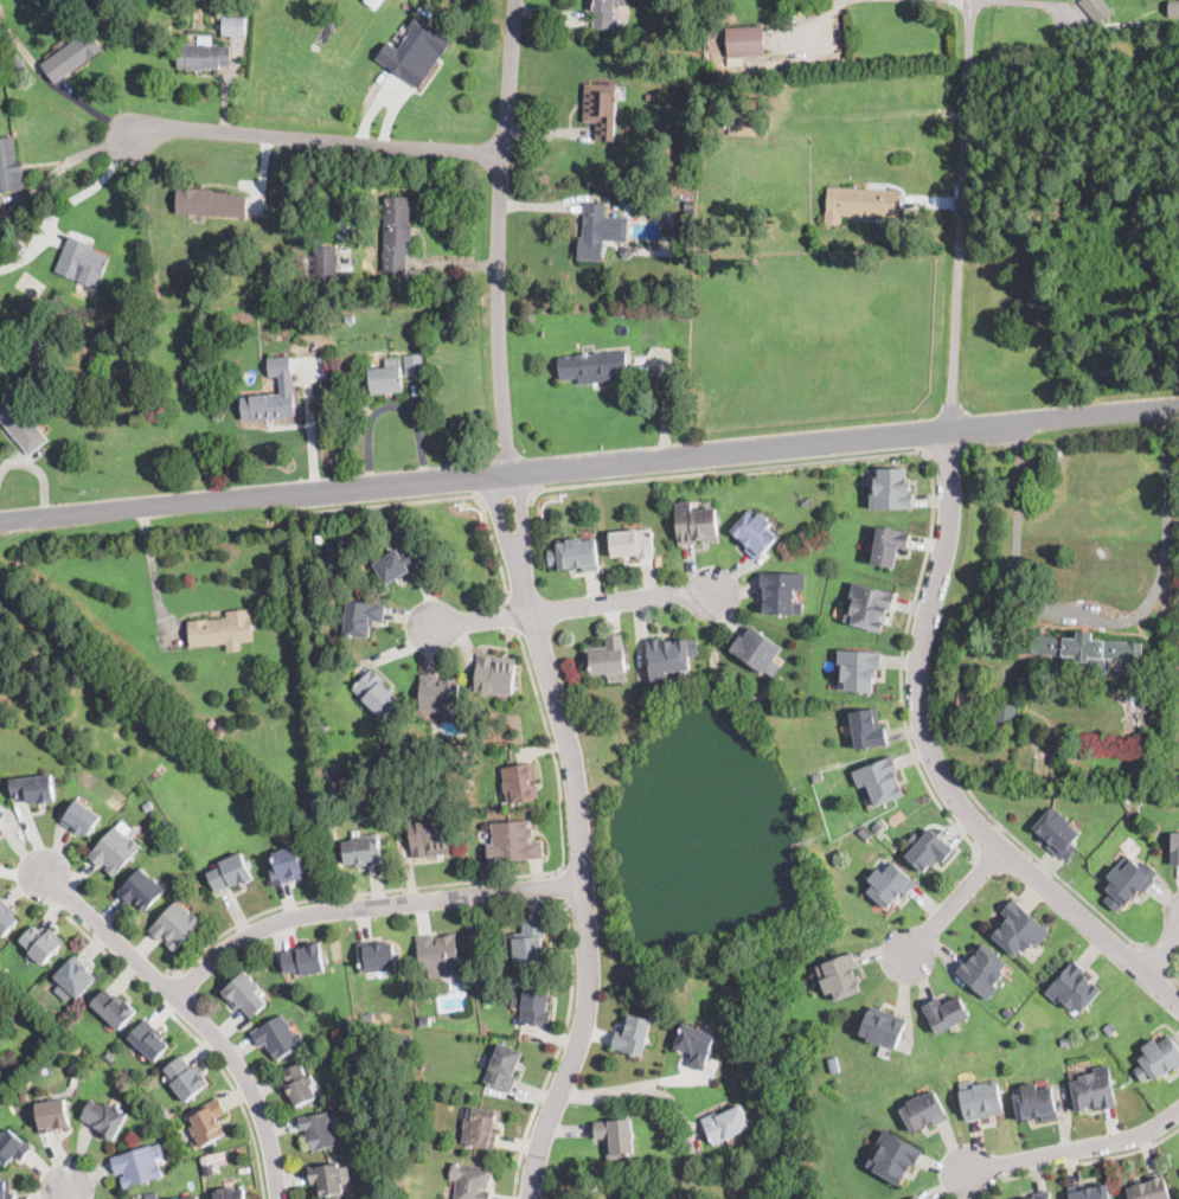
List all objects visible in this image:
road: (967, 0)
road: (975, 0)
building: (373, 2)
road: (1052, 4)
building: (1096, 8)
building: (1173, 9)
building: (605, 13)
building: (242, 18)
building: (409, 20)
building: (680, 27)
building: (745, 39)
building: (411, 50)
building: (204, 54)
building: (71, 56)
building: (736, 60)
building: (694, 73)
building: (723, 94)
building: (601, 103)
building: (742, 124)
road: (318, 141)
building: (8, 165)
building: (211, 203)
building: (861, 203)
road: (960, 213)
building: (598, 232)
building: (397, 233)
road: (500, 236)
building: (18, 244)
building: (626, 251)
building: (82, 259)
building: (325, 263)
building: (275, 286)
building: (348, 319)
building: (37, 353)
building: (414, 364)
building: (594, 366)
building: (389, 378)
building: (274, 395)
road: (390, 405)
road: (1065, 416)
building: (21, 425)
road: (729, 451)
road: (931, 467)
building: (892, 490)
road: (506, 495)
road: (252, 499)
road: (444, 499)
building: (698, 524)
building: (755, 533)
building: (320, 539)
building: (633, 544)
building: (889, 545)
building: (576, 554)
building: (399, 563)
building: (782, 592)
building: (867, 607)
road: (574, 608)
road: (511, 615)
building: (363, 617)
road: (1096, 618)
building: (223, 630)
building: (757, 649)
building: (1084, 652)
building: (669, 658)
building: (610, 659)
building: (859, 669)
building: (495, 674)
building: (377, 693)
building: (441, 695)
building: (1005, 716)
building: (212, 723)
building: (220, 730)
building: (867, 730)
road: (936, 763)
building: (880, 780)
building: (521, 782)
building: (34, 789)
building: (148, 807)
building: (1121, 807)
building: (2, 813)
building: (82, 819)
building: (0, 826)
building: (878, 827)
building: (864, 833)
building: (1057, 833)
road: (988, 835)
building: (430, 836)
road: (582, 836)
building: (517, 841)
building: (117, 849)
building: (179, 849)
building: (928, 849)
building: (1174, 849)
building: (363, 851)
building: (288, 866)
building: (232, 873)
road: (1056, 873)
road: (483, 879)
building: (1128, 881)
building: (890, 884)
road: (563, 885)
building: (143, 890)
road: (955, 904)
road: (367, 906)
building: (7, 918)
building: (177, 925)
building: (1020, 929)
building: (474, 937)
building: (43, 944)
building: (530, 945)
road: (1161, 953)
building: (441, 954)
building: (377, 956)
road: (1156, 957)
building: (306, 960)
building: (983, 970)
road: (1172, 972)
building: (840, 976)
building: (76, 977)
road: (161, 986)
building: (1075, 988)
building: (246, 995)
building: (536, 1005)
building: (115, 1009)
building: (946, 1013)
building: (1008, 1013)
road: (196, 1015)
building: (424, 1019)
building: (1020, 1022)
building: (883, 1027)
building: (1110, 1030)
road: (192, 1032)
building: (634, 1035)
building: (278, 1038)
building: (1066, 1039)
building: (150, 1040)
building: (697, 1045)
road: (557, 1051)
building: (111, 1054)
building: (1158, 1058)
building: (834, 1065)
building: (504, 1067)
building: (1, 1078)
building: (187, 1079)
building: (300, 1085)
building: (1095, 1090)
road: (637, 1091)
building: (980, 1099)
building: (1036, 1103)
building: (924, 1111)
building: (165, 1114)
building: (53, 1115)
building: (107, 1118)
building: (209, 1123)
building: (725, 1123)
building: (481, 1128)
building: (320, 1130)
building: (617, 1137)
building: (13, 1147)
road: (1075, 1152)
building: (893, 1156)
road: (1094, 1161)
building: (137, 1166)
building: (328, 1179)
building: (472, 1181)
road: (600, 1185)
building: (1149, 1188)
building: (5, 1191)
building: (1089, 1192)
building: (232, 1193)
road: (68, 1194)
building: (914, 1197)
building: (137, 1198)
building: (192, 1198)
building: (1032, 1198)
building: (1046, 1198)

